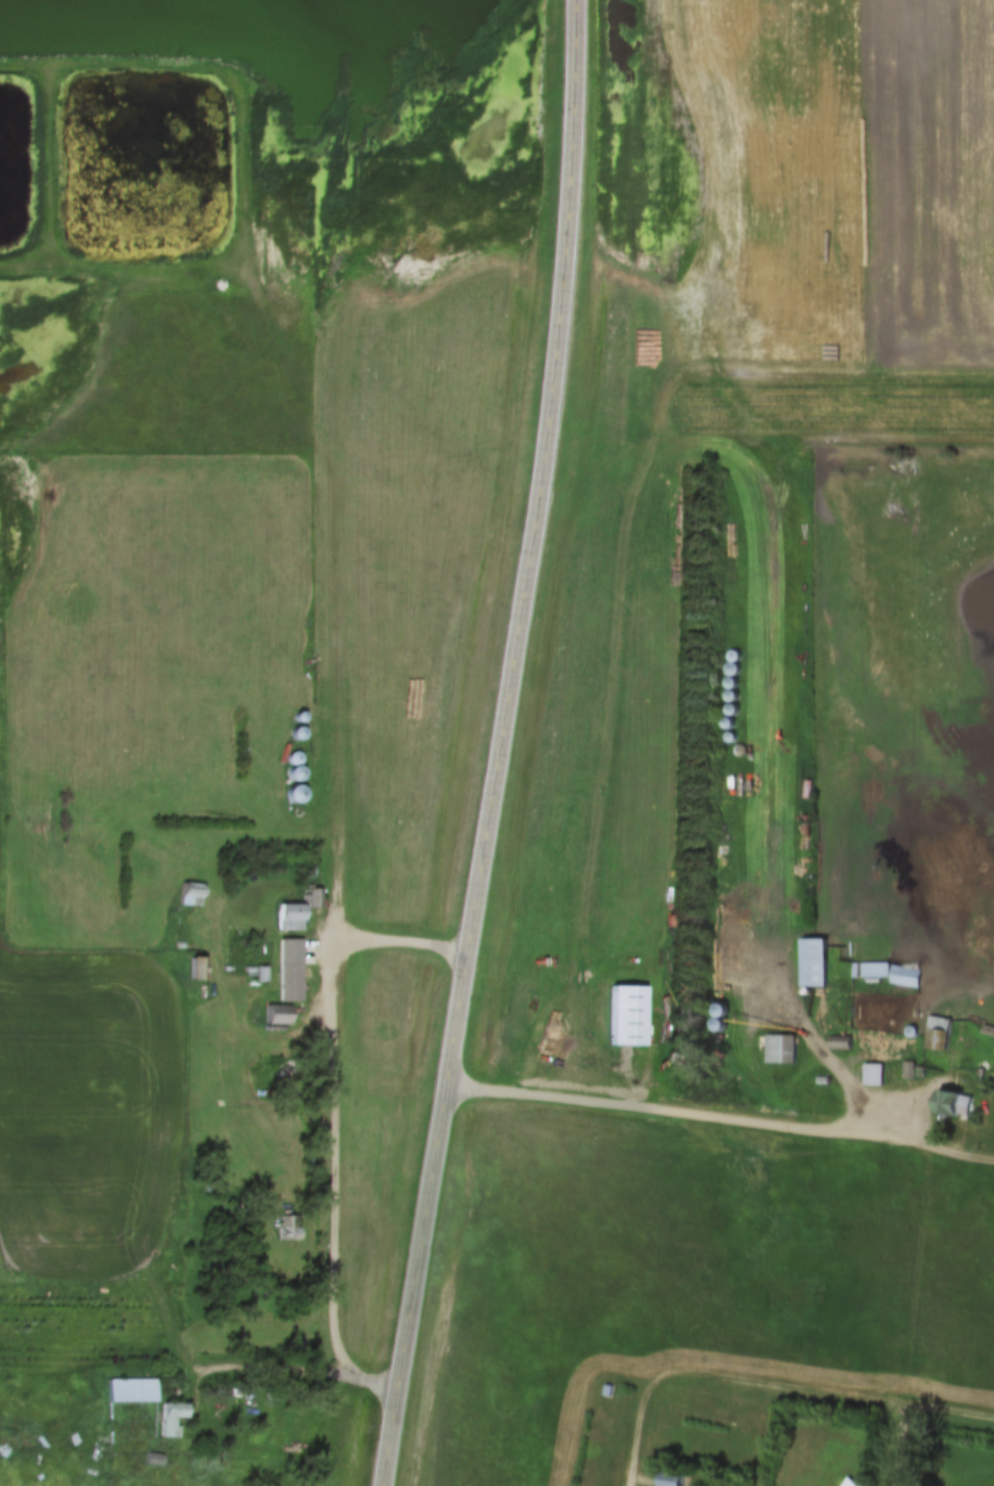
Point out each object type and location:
road: (341, 711)
building: (298, 718)
silo: (298, 718)
building: (298, 734)
silo: (298, 734)
building: (730, 737)
silo: (730, 737)
road: (507, 745)
building: (740, 751)
silo: (740, 751)
building: (295, 775)
silo: (295, 775)
building: (294, 795)
silo: (294, 795)
building: (298, 814)
silo: (298, 814)
building: (974, 854)
building: (190, 896)
building: (313, 899)
building: (288, 918)
building: (180, 945)
building: (813, 961)
building: (196, 968)
building: (888, 970)
building: (277, 1015)
building: (988, 1030)
building: (937, 1032)
building: (839, 1042)
building: (780, 1048)
road: (830, 1059)
building: (909, 1070)
building: (921, 1071)
building: (873, 1074)
building: (822, 1081)
road: (339, 1095)
building: (947, 1102)
road: (689, 1114)
road: (961, 1157)
building: (287, 1229)
road: (315, 1370)
building: (131, 1392)
building: (607, 1392)
road: (800, 1392)
building: (250, 1402)
building: (168, 1421)
road: (903, 1447)
building: (102, 1452)
road: (638, 1458)
building: (153, 1460)
building: (670, 1479)
building: (849, 1483)

